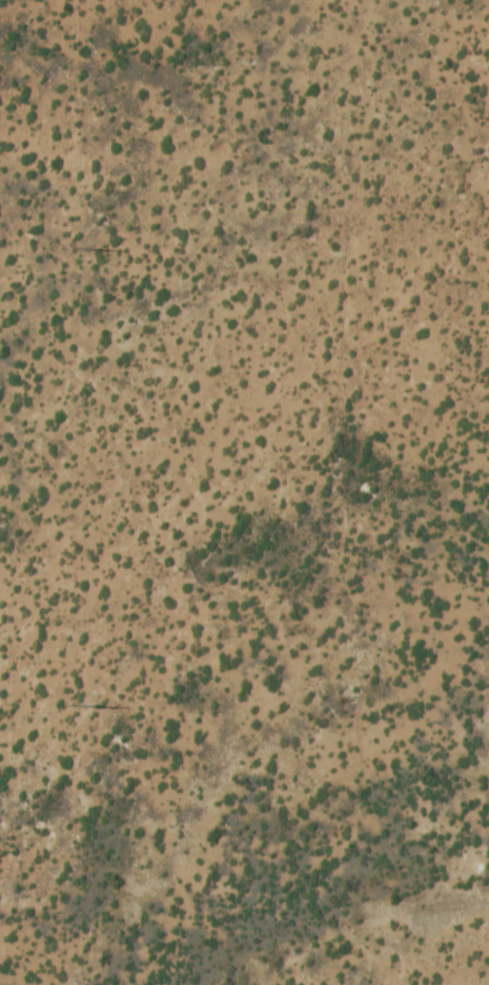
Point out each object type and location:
power tower: (62, 249)
power tower: (67, 707)

